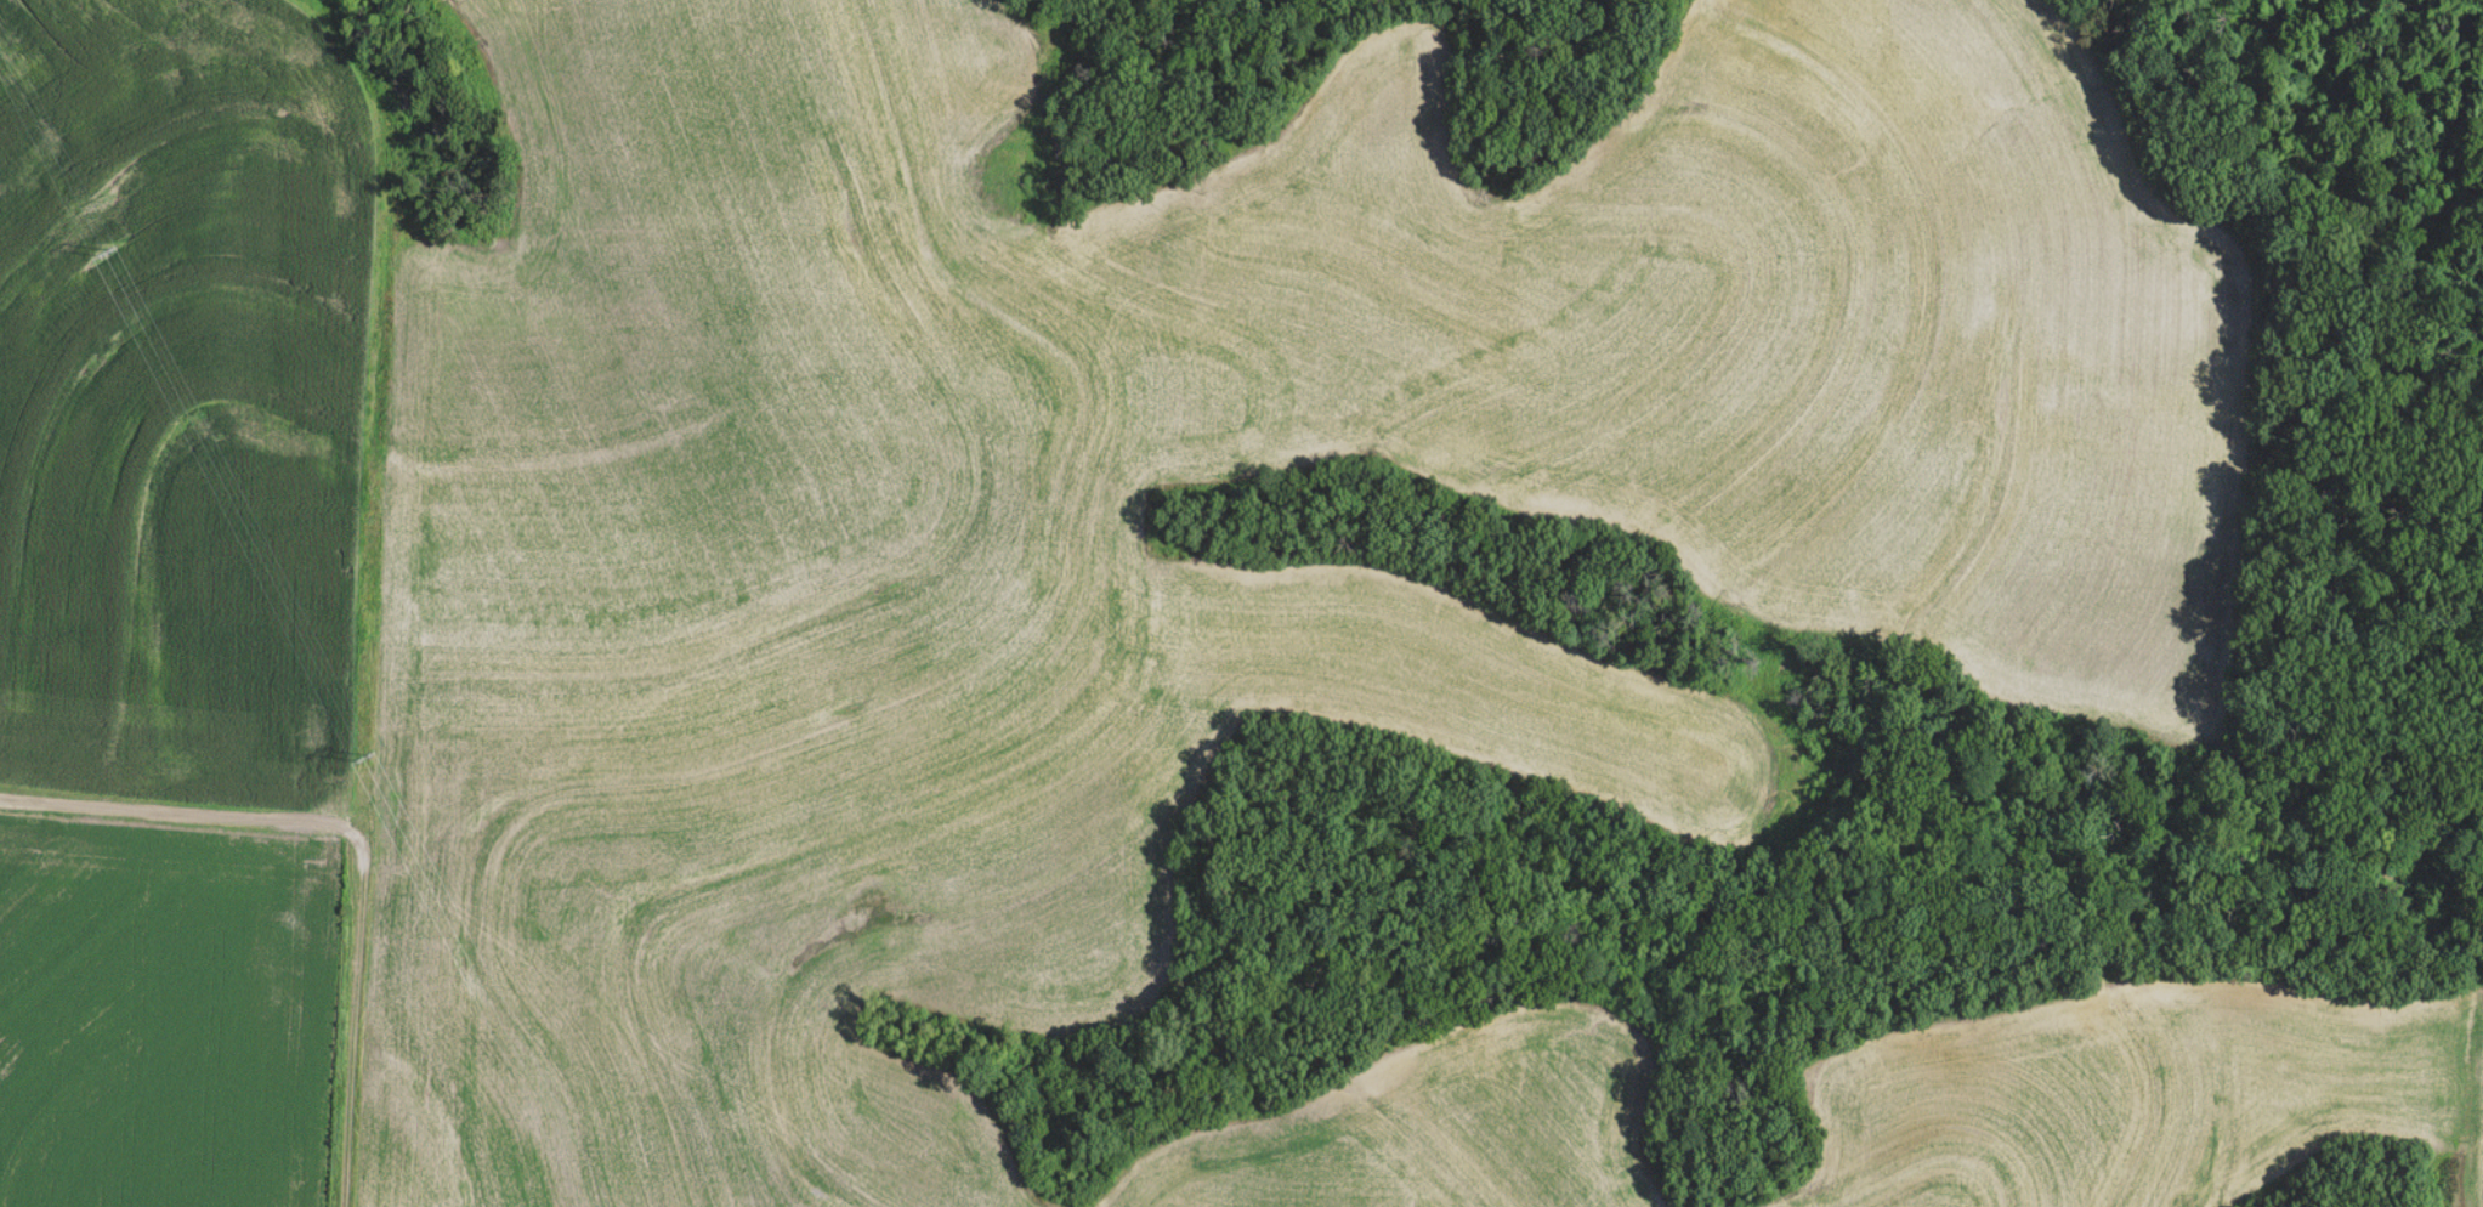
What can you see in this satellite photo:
road: (119, 810)

